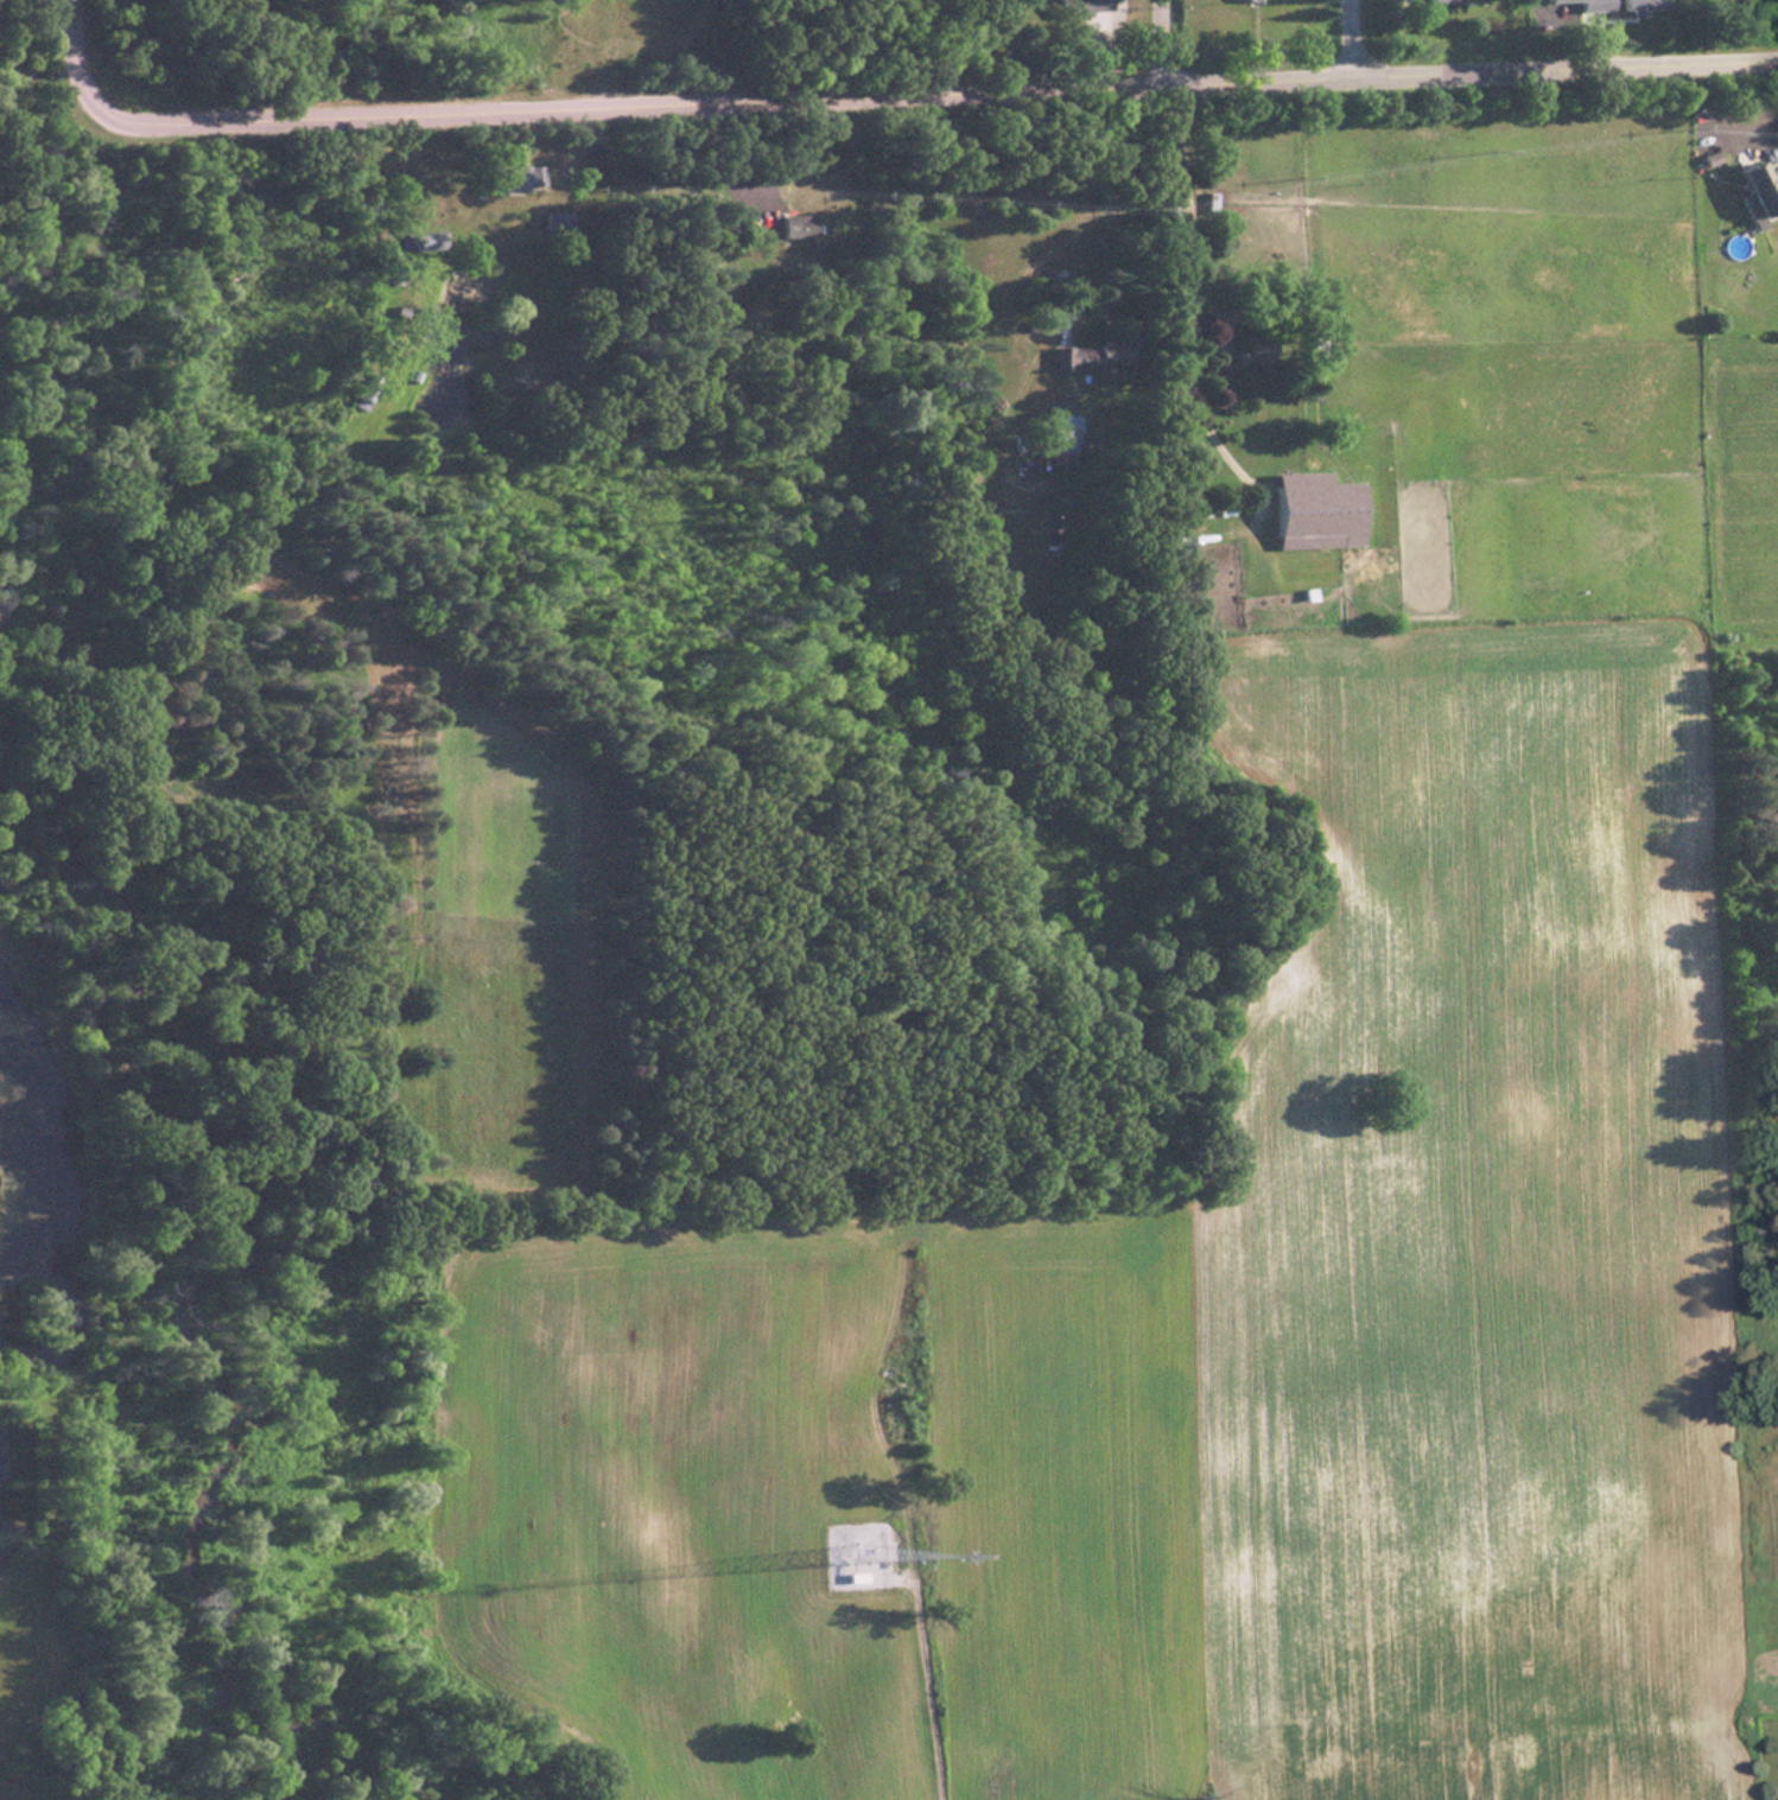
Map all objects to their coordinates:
building: (1244, 1)
building: (1440, 1)
building: (1587, 5)
building: (1637, 5)
building: (1082, 8)
road: (1361, 36)
road: (1174, 38)
road: (876, 96)
road: (1771, 132)
building: (501, 178)
road: (1186, 185)
building: (1755, 192)
building: (790, 225)
building: (424, 242)
building: (1315, 348)
building: (1072, 360)
building: (1251, 362)
building: (1218, 369)
building: (1058, 428)
building: (1313, 513)

